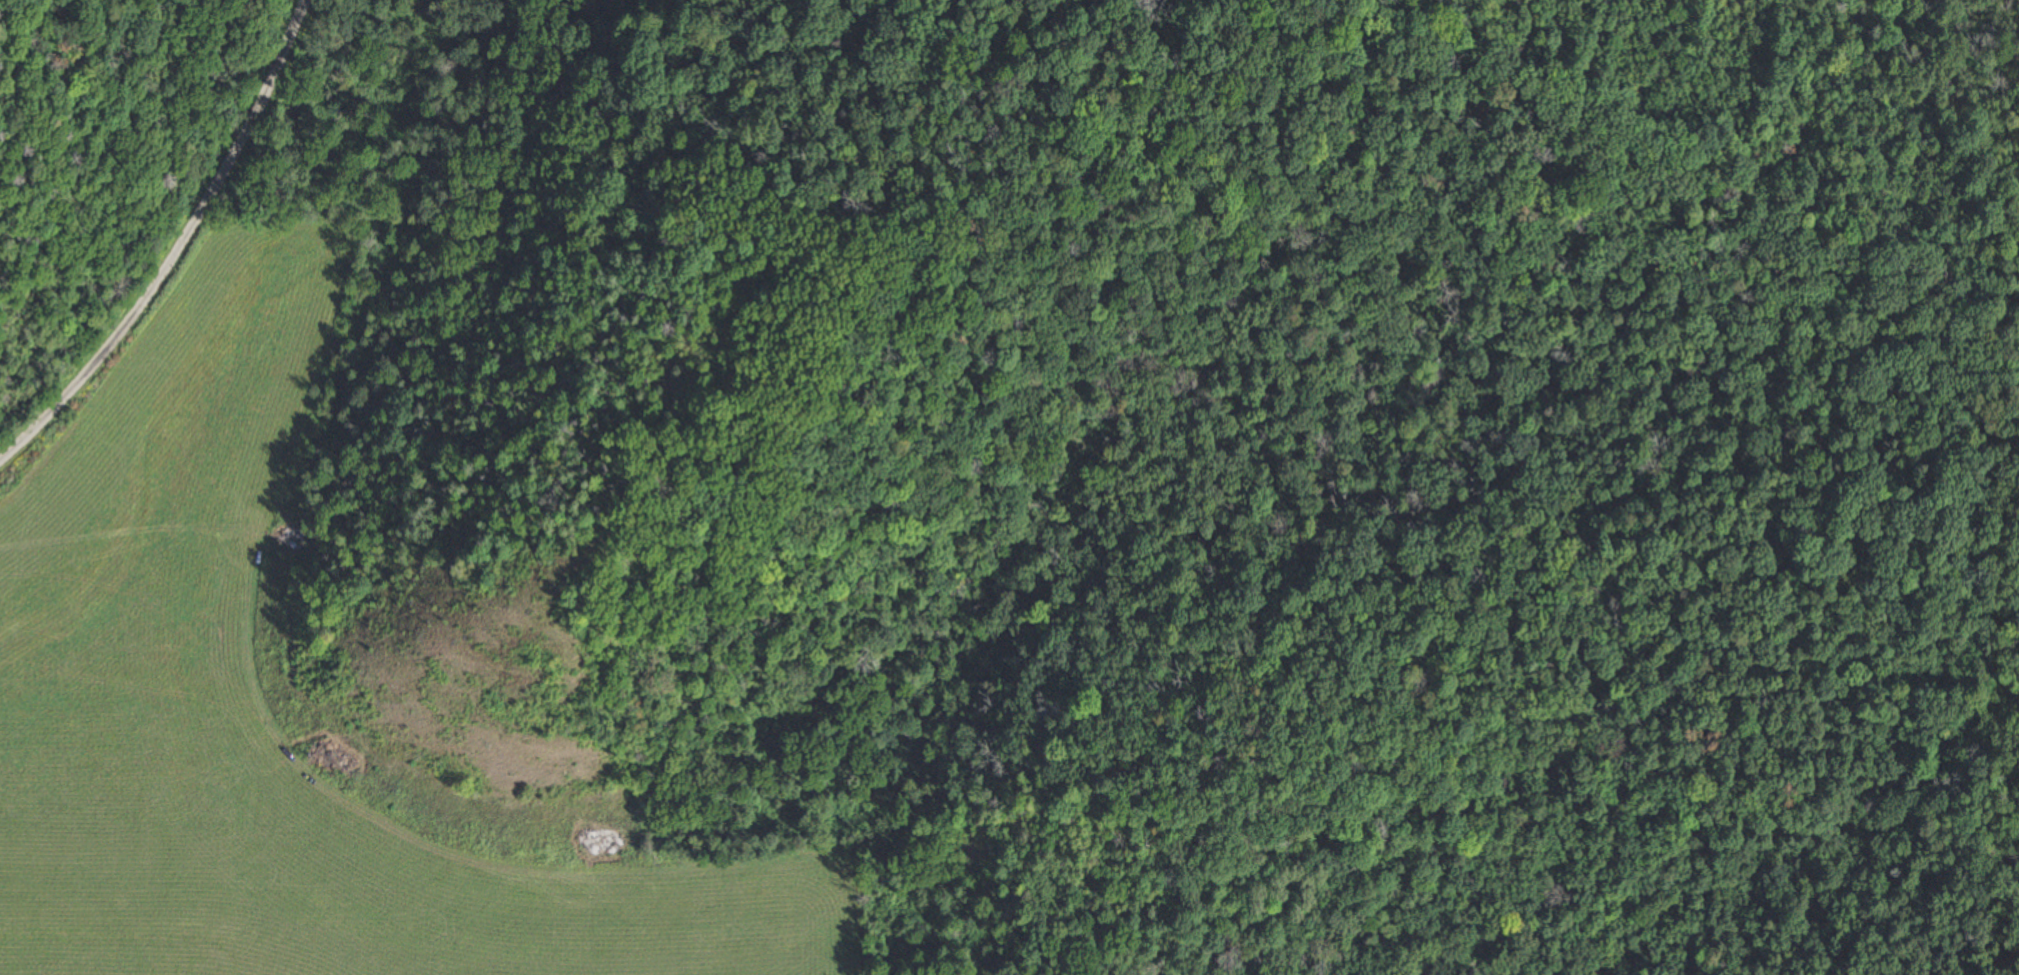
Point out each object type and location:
road: (179, 245)

